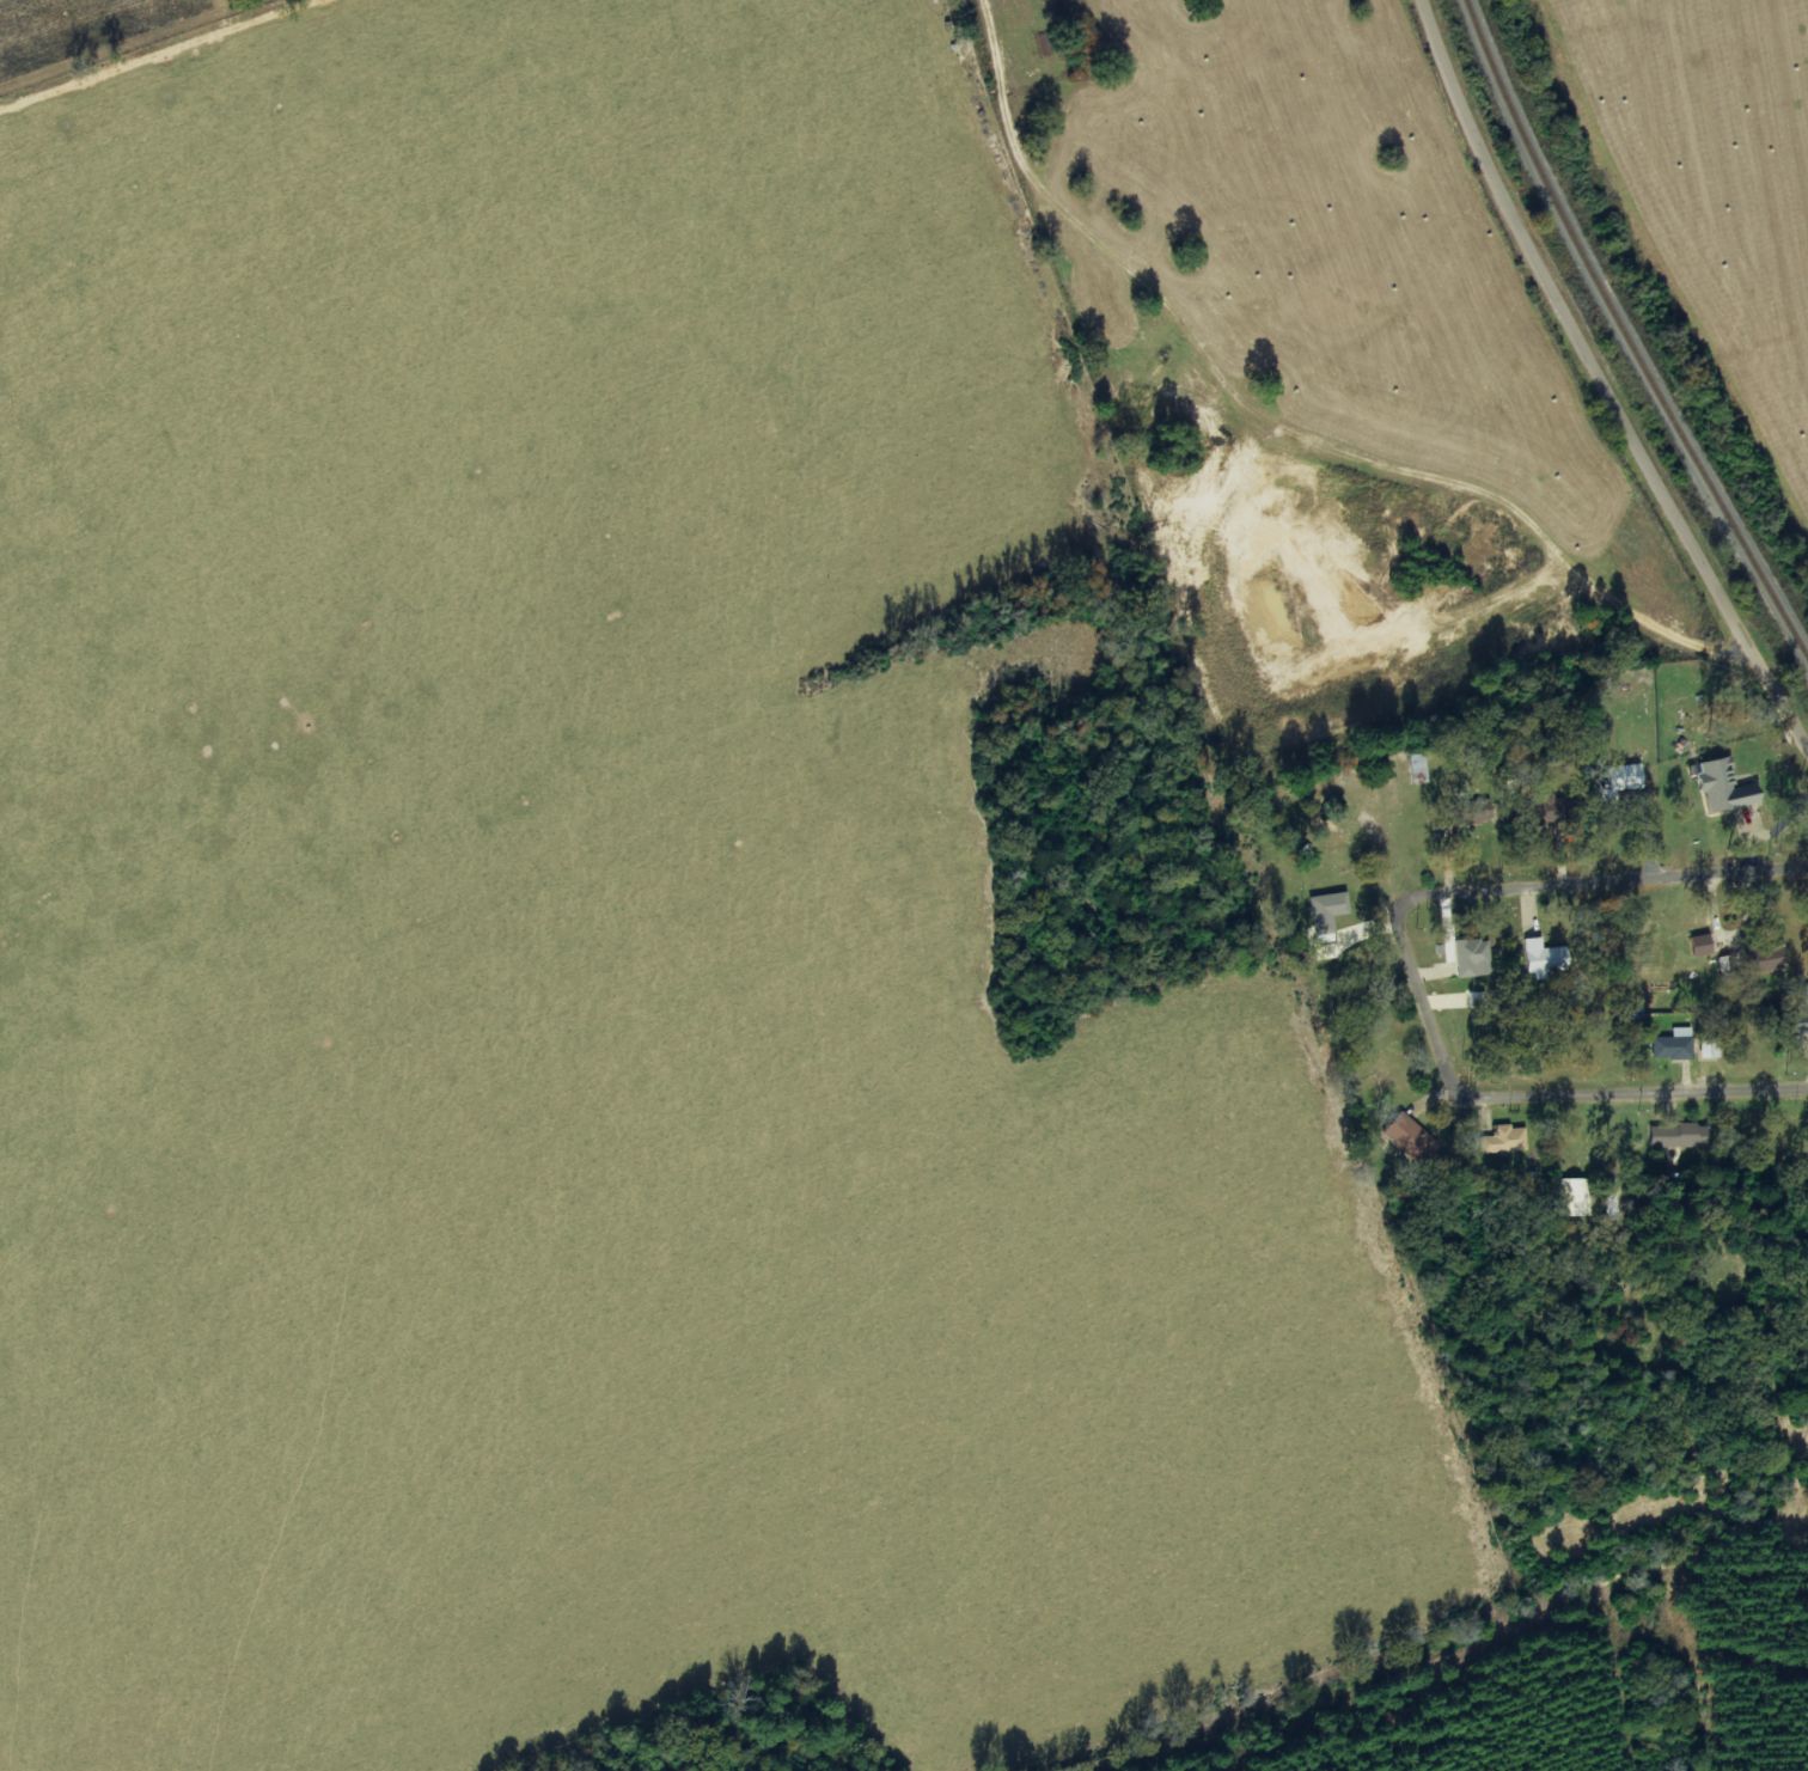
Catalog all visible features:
railway: (1626, 334)
road: (1575, 390)
building: (1418, 768)
building: (1621, 781)
building: (1727, 788)
building: (1472, 813)
building: (1328, 910)
building: (1703, 943)
building: (1545, 958)
building: (1473, 959)
building: (1807, 994)
building: (1478, 1000)
building: (1801, 1021)
building: (1675, 1045)
building: (1710, 1049)
building: (1680, 1136)
building: (1411, 1138)
building: (1505, 1140)

